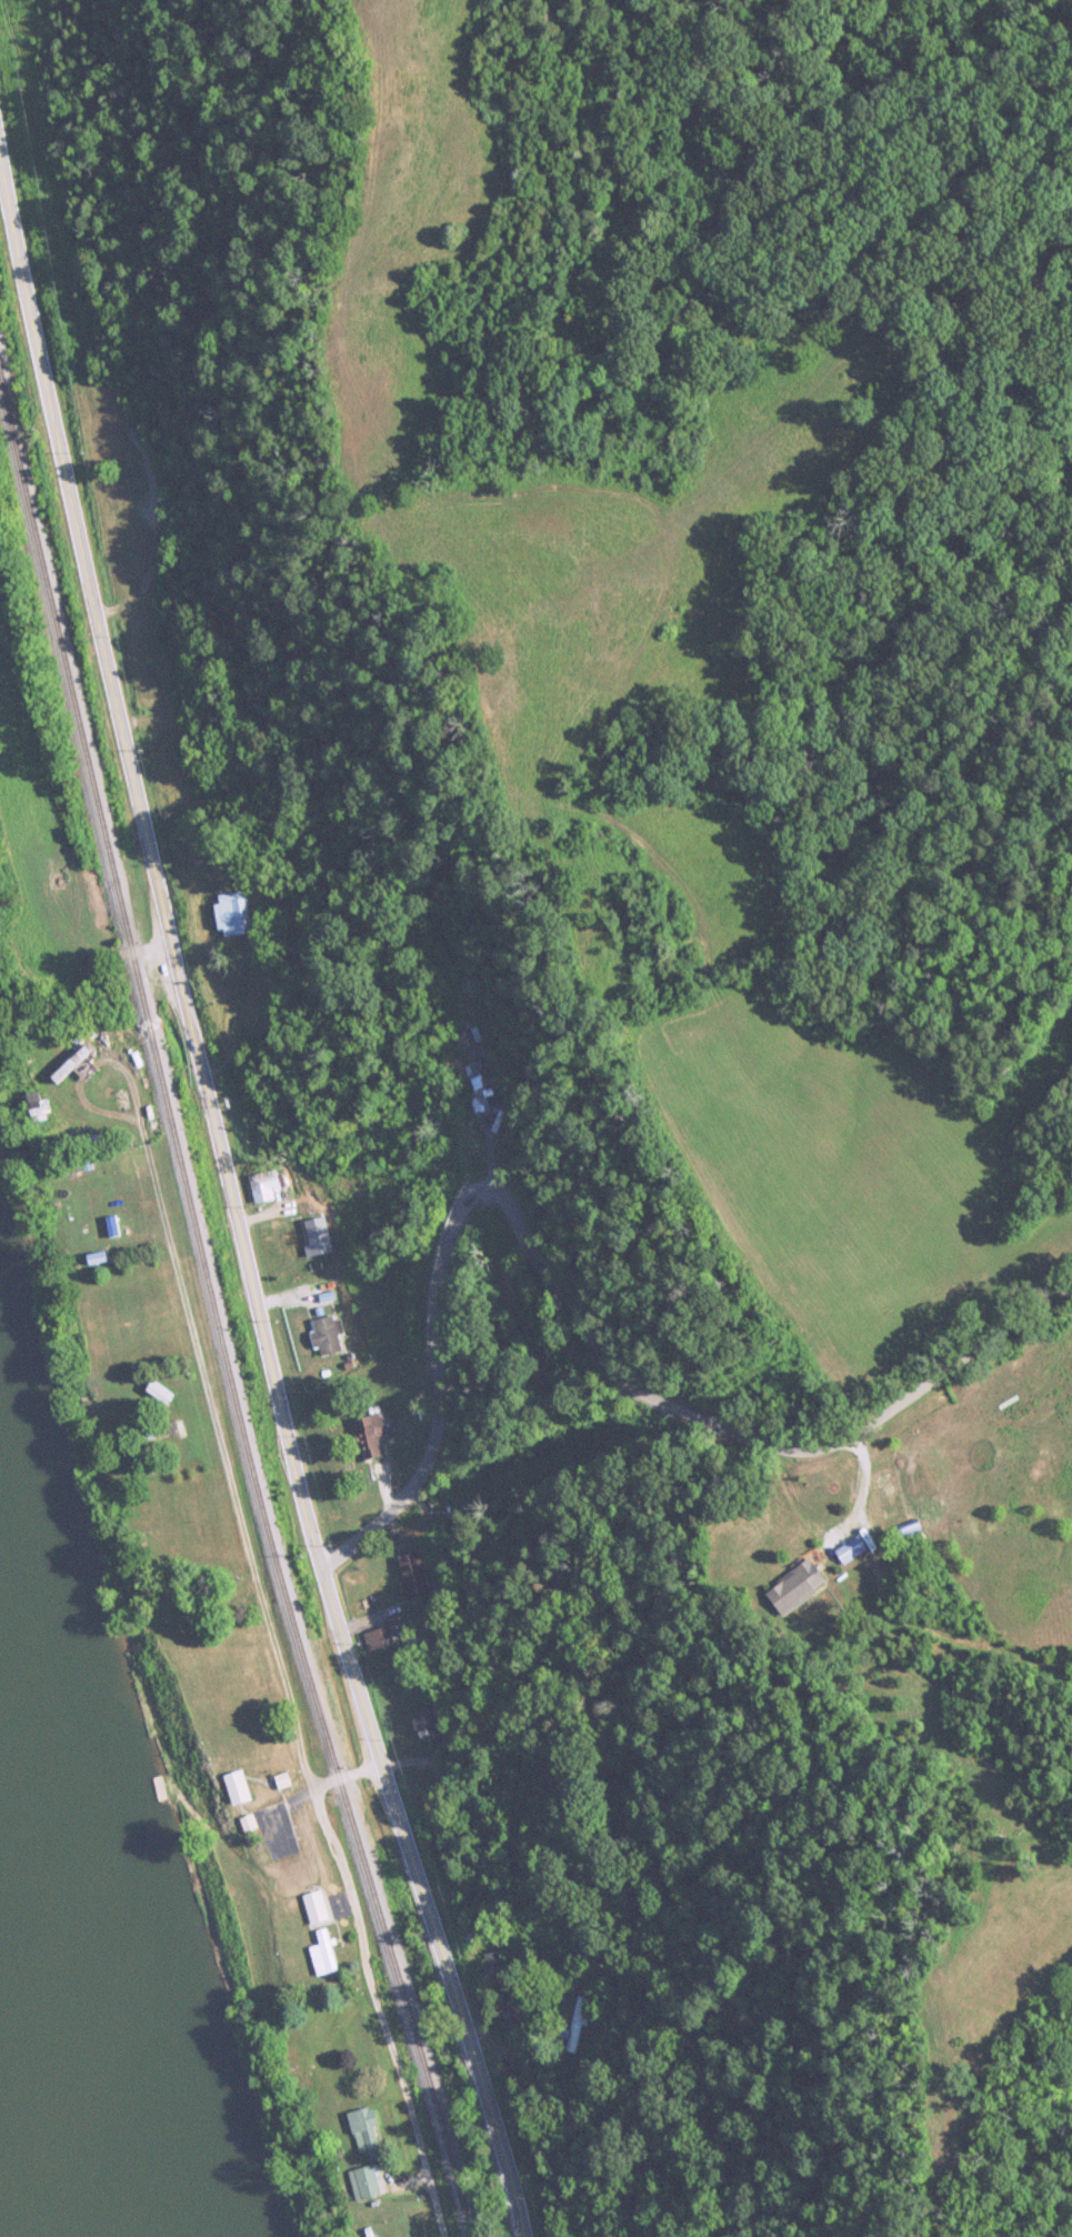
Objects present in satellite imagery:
building: (131, 473)
building: (232, 914)
building: (464, 1040)
building: (480, 1086)
building: (262, 1186)
road: (231, 1204)
building: (315, 1235)
road: (602, 1285)
railway: (207, 1287)
building: (325, 1335)
building: (367, 1438)
road: (221, 1452)
road: (863, 1478)
building: (805, 1576)
building: (412, 1577)
building: (380, 1638)
building: (424, 1726)
building: (231, 1790)
building: (243, 1825)
building: (318, 1906)
road: (217, 1937)
building: (322, 1954)
building: (368, 2136)
building: (365, 2183)
river: (6, 2216)

